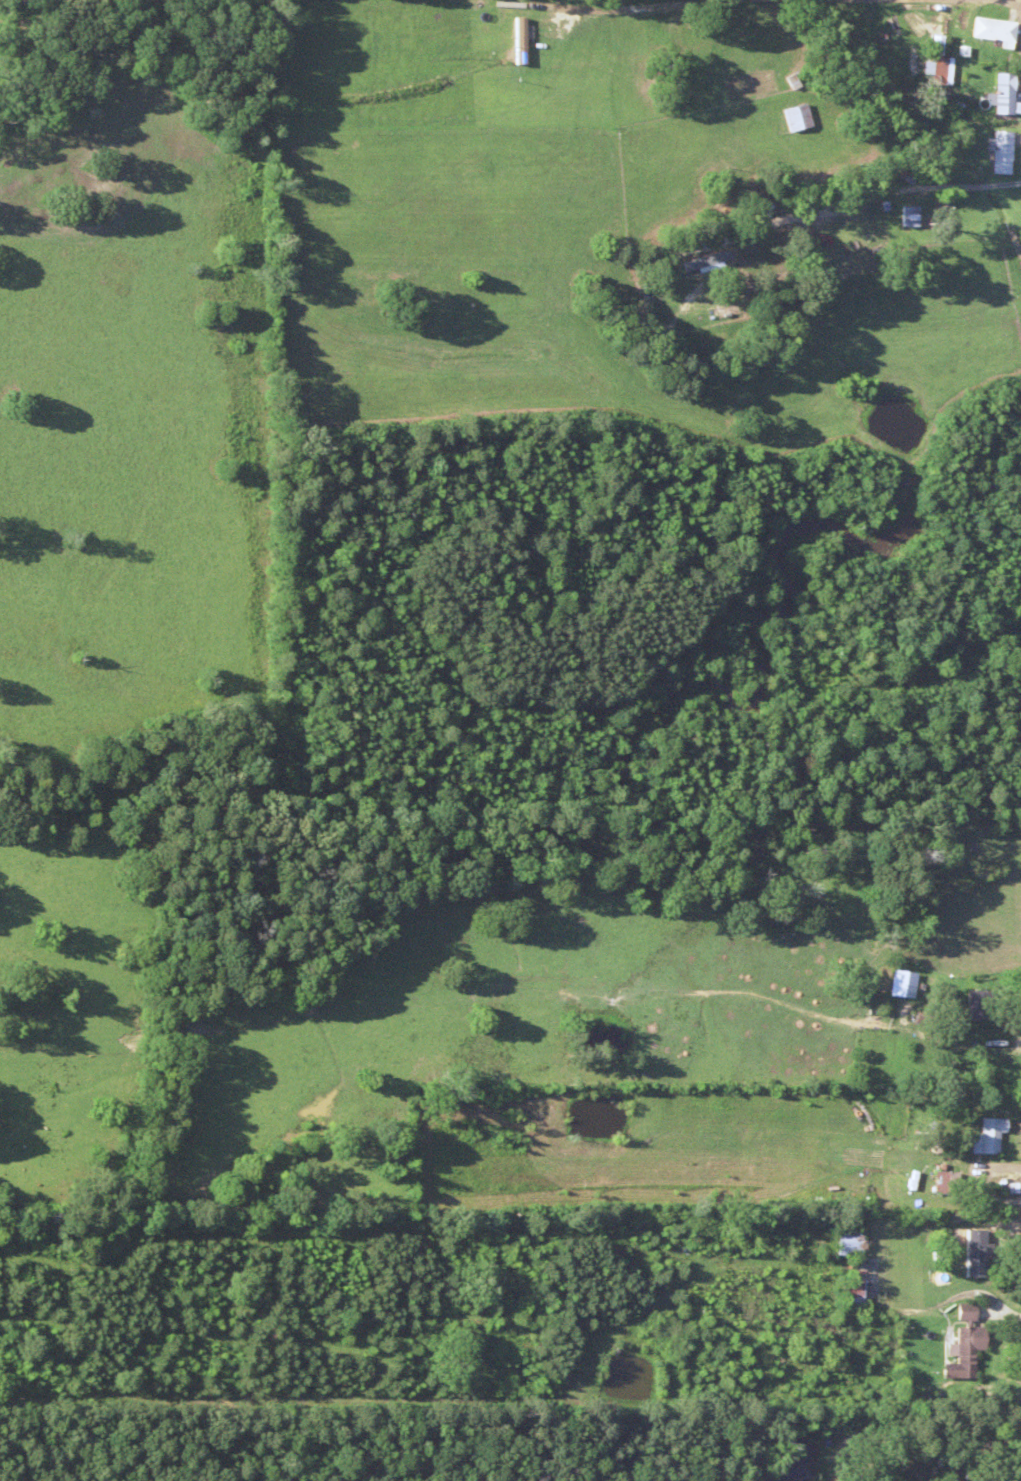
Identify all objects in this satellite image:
building: (989, 29)
building: (1000, 93)
building: (793, 117)
building: (997, 151)
building: (904, 215)
building: (974, 847)
building: (897, 988)
building: (973, 1005)
building: (986, 1135)
building: (941, 1182)
building: (845, 1241)
building: (962, 1248)
building: (850, 1283)
building: (961, 1344)

